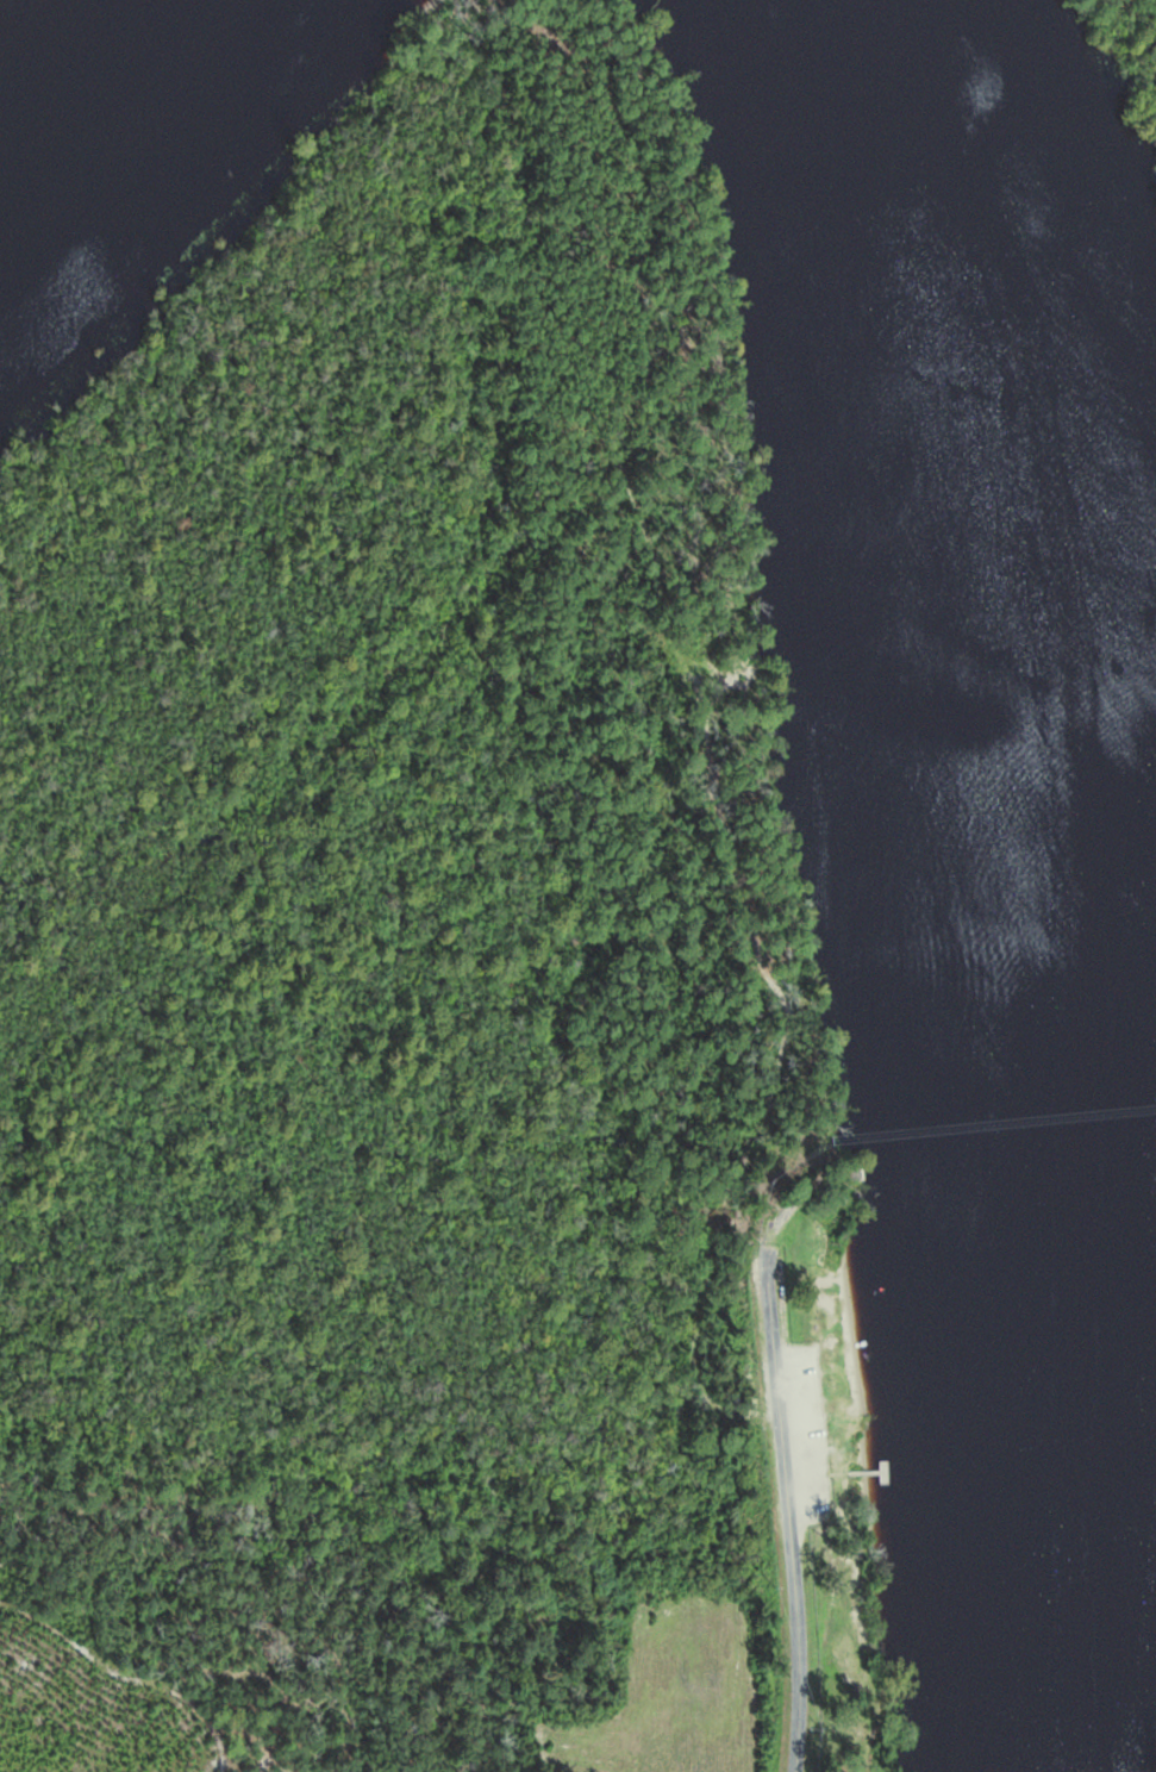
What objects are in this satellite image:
river: (119, 112)
river: (918, 127)
river: (1014, 1017)
road: (787, 1508)

